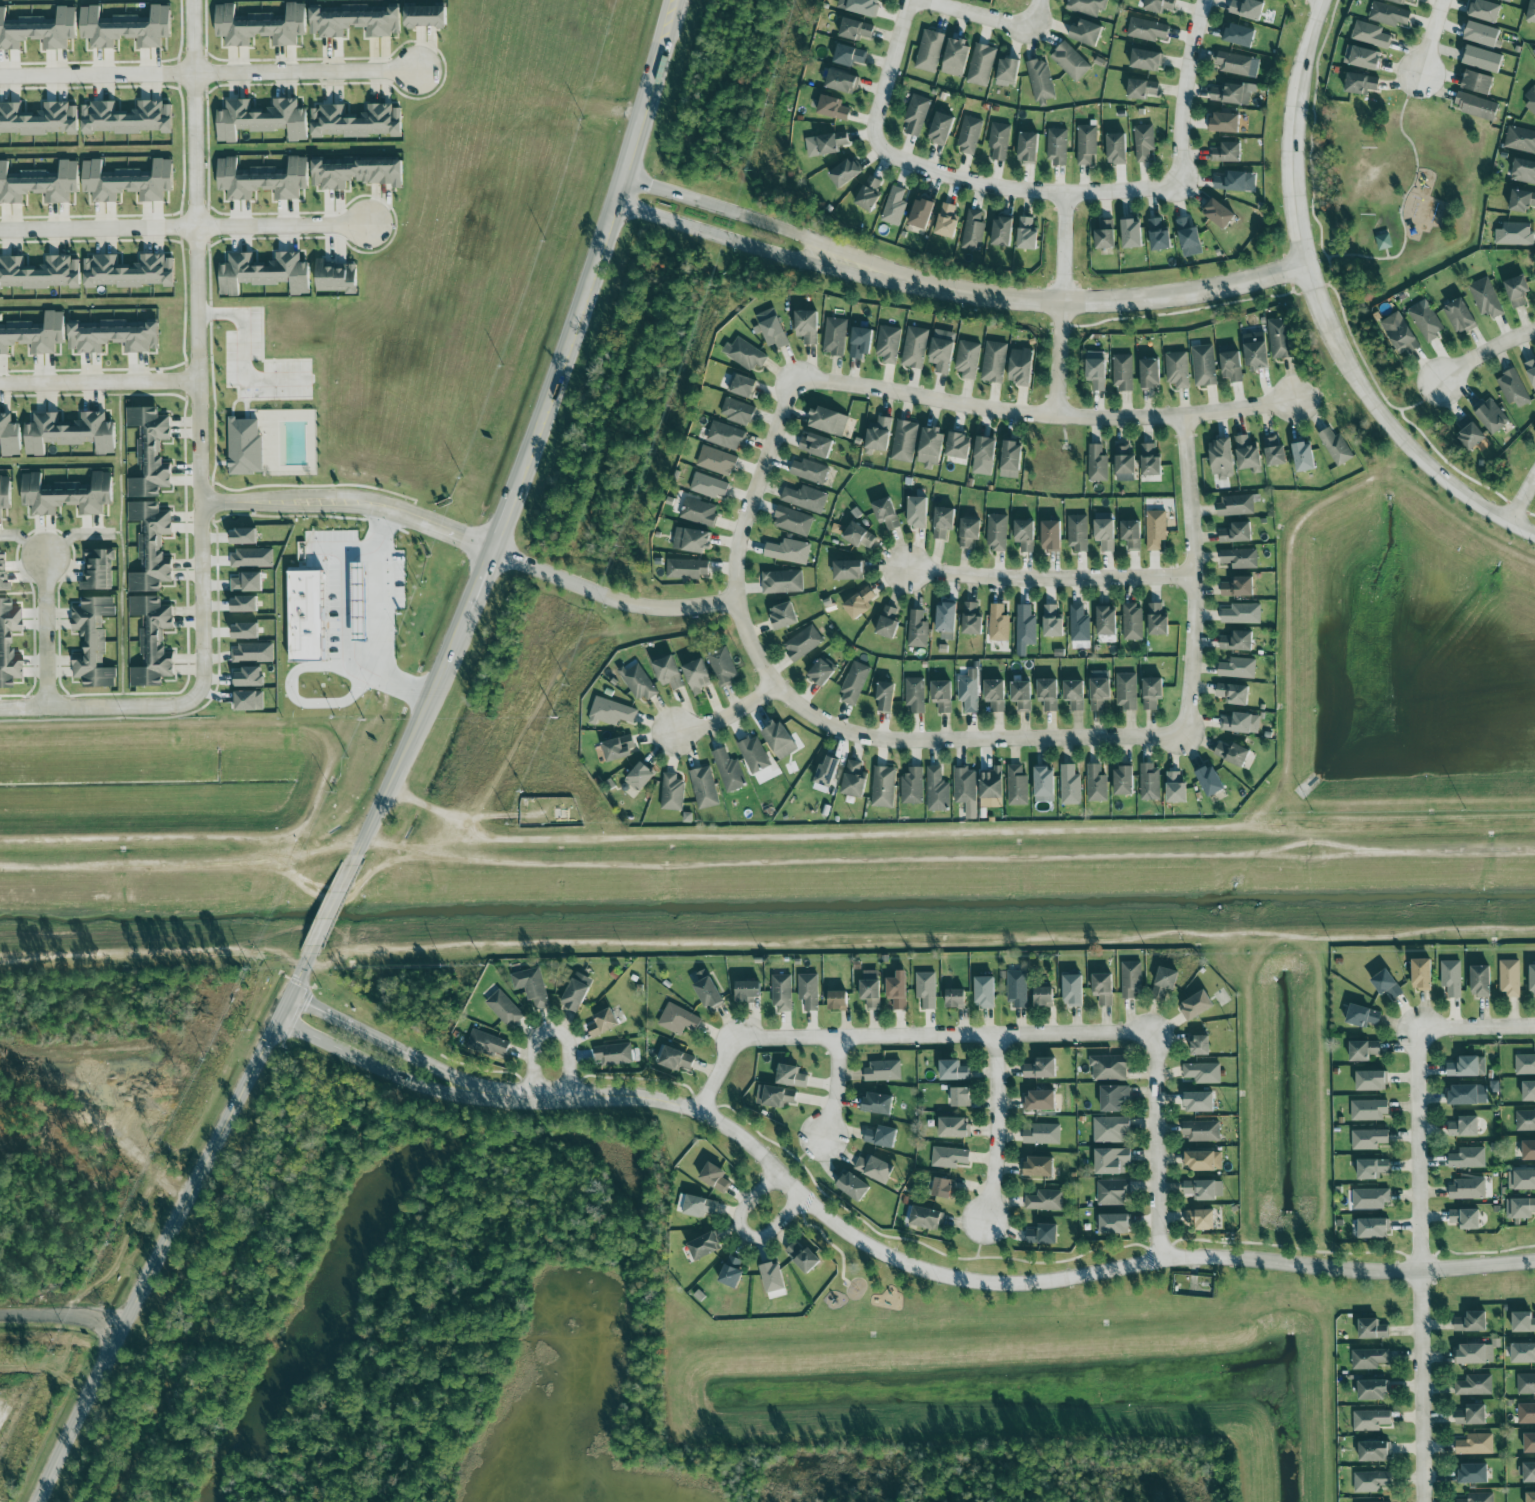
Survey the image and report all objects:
building: (1507, 0)
building: (1400, 1)
building: (1159, 5)
building: (859, 6)
building: (1086, 6)
road: (1041, 9)
building: (1247, 9)
building: (1485, 10)
building: (1531, 12)
building: (1388, 14)
road: (985, 15)
building: (424, 16)
building: (354, 21)
building: (259, 25)
building: (124, 28)
building: (39, 29)
building: (855, 29)
building: (1146, 30)
building: (1086, 32)
building: (1483, 34)
building: (1239, 35)
building: (1370, 35)
road: (1431, 37)
building: (929, 51)
building: (849, 55)
building: (955, 57)
building: (1362, 58)
building: (1483, 59)
building: (1145, 60)
road: (657, 61)
road: (894, 61)
building: (1070, 61)
building: (1236, 64)
building: (981, 65)
building: (1007, 70)
road: (208, 72)
building: (1040, 80)
building: (841, 81)
building: (1477, 82)
building: (1361, 84)
road: (1190, 85)
building: (1141, 89)
building: (1232, 93)
building: (1531, 100)
building: (1475, 106)
building: (833, 108)
building: (916, 114)
building: (126, 118)
building: (39, 119)
building: (261, 119)
building: (355, 121)
building: (1225, 123)
building: (940, 129)
building: (968, 134)
building: (1520, 139)
building: (998, 141)
building: (1143, 142)
building: (825, 144)
building: (1086, 144)
building: (1056, 146)
building: (1027, 147)
building: (1116, 148)
building: (1226, 152)
road: (628, 157)
building: (1523, 171)
building: (356, 173)
building: (845, 173)
building: (262, 179)
building: (126, 181)
building: (1235, 181)
building: (39, 183)
road: (1020, 189)
park: (1405, 193)
building: (869, 194)
building: (1522, 201)
building: (894, 206)
building: (921, 213)
building: (1219, 214)
road: (759, 221)
building: (946, 221)
road: (284, 226)
road: (99, 228)
building: (973, 231)
road: (1405, 231)
building: (1001, 232)
building: (1026, 234)
building: (1104, 234)
building: (1131, 234)
building: (1514, 234)
building: (1158, 236)
building: (1188, 238)
road: (752, 245)
building: (1382, 245)
building: (127, 271)
building: (39, 273)
building: (264, 273)
building: (335, 277)
building: (1517, 291)
building: (1486, 298)
road: (1103, 299)
road: (1067, 305)
road: (1322, 310)
building: (1460, 316)
building: (1425, 321)
building: (806, 326)
building: (771, 328)
building: (1400, 333)
building: (33, 334)
building: (111, 336)
building: (834, 336)
building: (1279, 338)
road: (565, 340)
building: (860, 343)
building: (888, 344)
road: (198, 347)
road: (250, 348)
building: (914, 348)
building: (942, 351)
building: (1256, 351)
road: (1487, 353)
building: (745, 354)
building: (967, 359)
building: (994, 362)
building: (1230, 363)
building: (1203, 365)
parking lot: (264, 366)
building: (1021, 367)
building: (1177, 369)
building: (1096, 370)
building: (1122, 372)
building: (1531, 372)
building: (1150, 374)
road: (99, 382)
building: (743, 386)
building: (1513, 388)
building: (737, 411)
road: (1041, 413)
building: (1491, 416)
building: (828, 421)
building: (69, 433)
building: (1470, 434)
building: (9, 436)
building: (725, 436)
building: (879, 436)
building: (904, 441)
building: (816, 445)
building: (958, 446)
building: (245, 447)
building: (930, 447)
building: (1335, 447)
building: (149, 452)
building: (1247, 453)
building: (1274, 453)
building: (984, 456)
building: (1303, 457)
building: (1222, 459)
building: (1010, 460)
building: (716, 461)
building: (1149, 461)
building: (1097, 464)
building: (1124, 464)
building: (809, 471)
building: (708, 486)
building: (4, 492)
building: (66, 495)
building: (805, 498)
road: (1523, 500)
road: (351, 505)
building: (1235, 505)
building: (698, 512)
building: (886, 513)
building: (917, 513)
road: (1532, 516)
road: (503, 520)
building: (792, 521)
building: (943, 522)
building: (1155, 530)
building: (1104, 531)
building: (996, 532)
building: (1077, 532)
building: (969, 533)
building: (1236, 533)
road: (72, 535)
building: (1024, 535)
building: (1131, 535)
building: (858, 536)
building: (1051, 536)
building: (692, 540)
road: (23, 541)
building: (150, 547)
building: (788, 551)
building: (251, 558)
building: (1239, 559)
building: (686, 569)
building: (98, 570)
building: (848, 571)
building: (1, 572)
road: (1196, 574)
building: (782, 582)
road: (1052, 582)
building: (246, 583)
building: (1238, 587)
road: (611, 600)
building: (859, 604)
building: (243, 605)
building: (1242, 614)
road: (382, 616)
building: (783, 616)
building: (971, 620)
building: (1157, 620)
building: (1132, 621)
building: (946, 622)
building: (1052, 622)
building: (1106, 622)
building: (887, 623)
building: (998, 624)
building: (1079, 624)
building: (917, 629)
building: (1025, 629)
road: (46, 630)
building: (244, 631)
building: (151, 641)
building: (92, 642)
building: (1236, 642)
building: (802, 643)
building: (8, 644)
building: (251, 653)
building: (722, 666)
building: (1237, 668)
building: (822, 672)
building: (668, 673)
building: (697, 676)
building: (247, 678)
building: (640, 683)
building: (853, 683)
building: (1099, 689)
building: (968, 691)
building: (1126, 691)
building: (1152, 693)
building: (1048, 694)
building: (1233, 694)
building: (915, 695)
building: (995, 695)
building: (1021, 695)
building: (1074, 695)
building: (942, 696)
building: (885, 697)
building: (248, 701)
road: (425, 703)
road: (101, 704)
building: (611, 713)
road: (728, 714)
road: (819, 718)
building: (1240, 724)
building: (778, 740)
building: (617, 749)
building: (1232, 754)
building: (754, 755)
building: (728, 771)
building: (825, 775)
building: (639, 777)
building: (854, 780)
building: (1123, 782)
building: (1150, 782)
building: (1210, 782)
building: (991, 783)
building: (1096, 784)
building: (1044, 785)
building: (1069, 785)
building: (1016, 786)
building: (883, 787)
building: (912, 787)
building: (704, 788)
building: (1175, 789)
building: (937, 790)
building: (965, 790)
building: (672, 792)
building: (992, 802)
road: (739, 884)
road: (337, 899)
river: (767, 900)
building: (1421, 973)
building: (1451, 977)
building: (1508, 977)
building: (1131, 979)
building: (1532, 980)
building: (1164, 981)
building: (1480, 981)
building: (1386, 983)
building: (531, 985)
building: (870, 988)
building: (1103, 988)
building: (926, 989)
building: (1016, 989)
building: (746, 990)
building: (808, 990)
building: (897, 990)
building: (1072, 990)
building: (576, 991)
building: (984, 991)
building: (781, 992)
building: (708, 993)
building: (1043, 996)
building: (955, 998)
building: (837, 1000)
building: (1196, 1004)
building: (504, 1008)
building: (1362, 1015)
building: (678, 1019)
building: (602, 1022)
road: (1476, 1027)
road: (555, 1034)
road: (903, 1037)
building: (487, 1043)
building: (1201, 1045)
road: (395, 1048)
building: (1363, 1050)
building: (614, 1054)
building: (675, 1059)
building: (1525, 1064)
building: (1467, 1066)
building: (1108, 1067)
building: (1040, 1068)
road: (385, 1070)
building: (883, 1070)
building: (953, 1070)
building: (1202, 1073)
building: (791, 1076)
building: (1371, 1080)
road: (834, 1088)
building: (1529, 1091)
building: (1468, 1094)
building: (775, 1096)
building: (960, 1096)
building: (1113, 1097)
building: (1040, 1099)
building: (1199, 1101)
building: (877, 1103)
building: (1368, 1110)
building: (1525, 1121)
building: (953, 1127)
road: (997, 1127)
building: (1464, 1127)
building: (1110, 1130)
building: (1201, 1131)
building: (1041, 1134)
building: (881, 1136)
building: (1368, 1139)
road: (1157, 1147)
building: (1528, 1150)
building: (949, 1157)
building: (1467, 1158)
building: (1111, 1160)
building: (1203, 1160)
building: (1039, 1166)
building: (873, 1168)
building: (1372, 1168)
building: (714, 1177)
building: (1521, 1180)
building: (853, 1186)
building: (942, 1187)
building: (1467, 1188)
building: (1204, 1189)
building: (1112, 1191)
building: (1370, 1199)
building: (1044, 1200)
building: (695, 1205)
building: (1520, 1208)
road: (821, 1213)
building: (925, 1217)
building: (1465, 1218)
building: (1201, 1219)
road: (179, 1223)
building: (1114, 1223)
building: (1373, 1228)
building: (1043, 1234)
road: (747, 1236)
building: (703, 1245)
building: (803, 1257)
road: (1418, 1264)
road: (1346, 1269)
building: (731, 1272)
building: (773, 1280)
road: (65, 1316)
building: (1471, 1322)
building: (1523, 1322)
building: (1372, 1329)
building: (1475, 1353)
building: (1522, 1353)
building: (1368, 1358)
road: (45, 1377)
building: (1525, 1384)
building: (1474, 1385)
building: (1373, 1390)
building: (1526, 1413)
building: (1471, 1415)
building: (1370, 1420)
building: (1529, 1443)
building: (1475, 1444)
building: (1374, 1451)
building: (1529, 1472)
building: (1473, 1473)
building: (1371, 1481)
building: (1478, 1497)
building: (1530, 1497)

